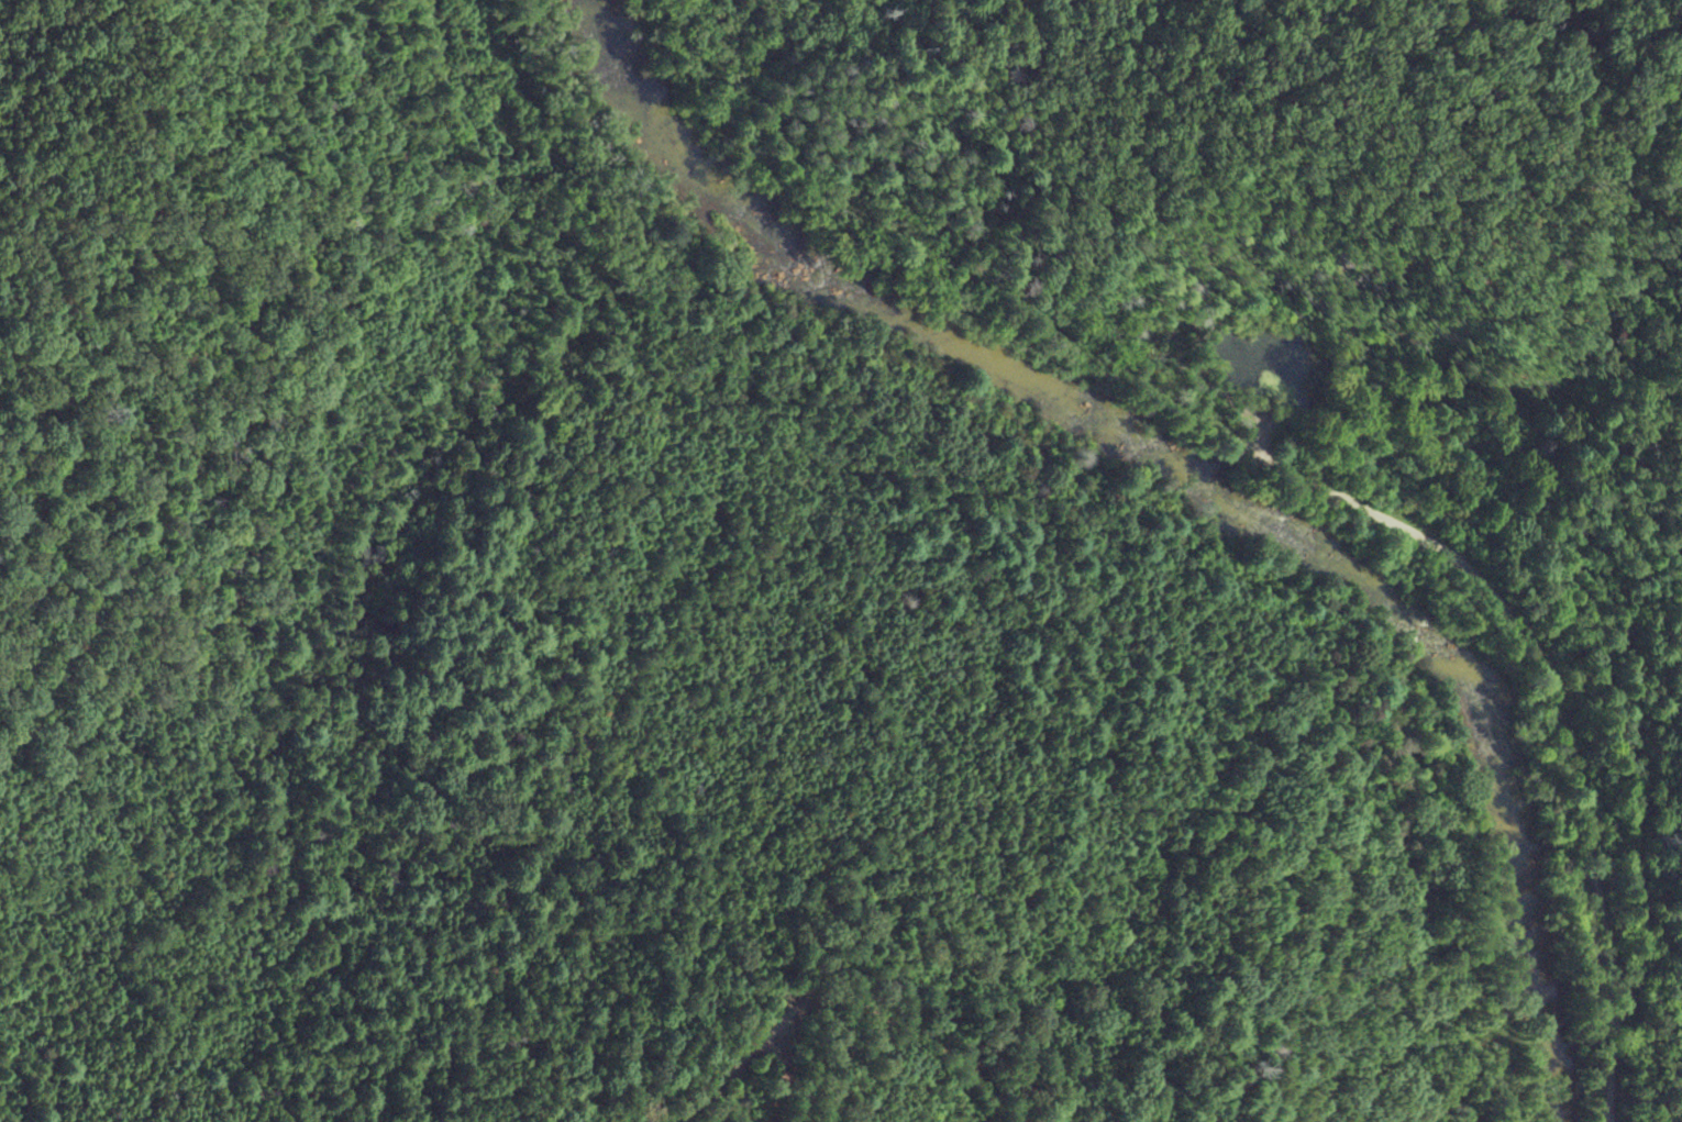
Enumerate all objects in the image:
river: (1204, 474)

